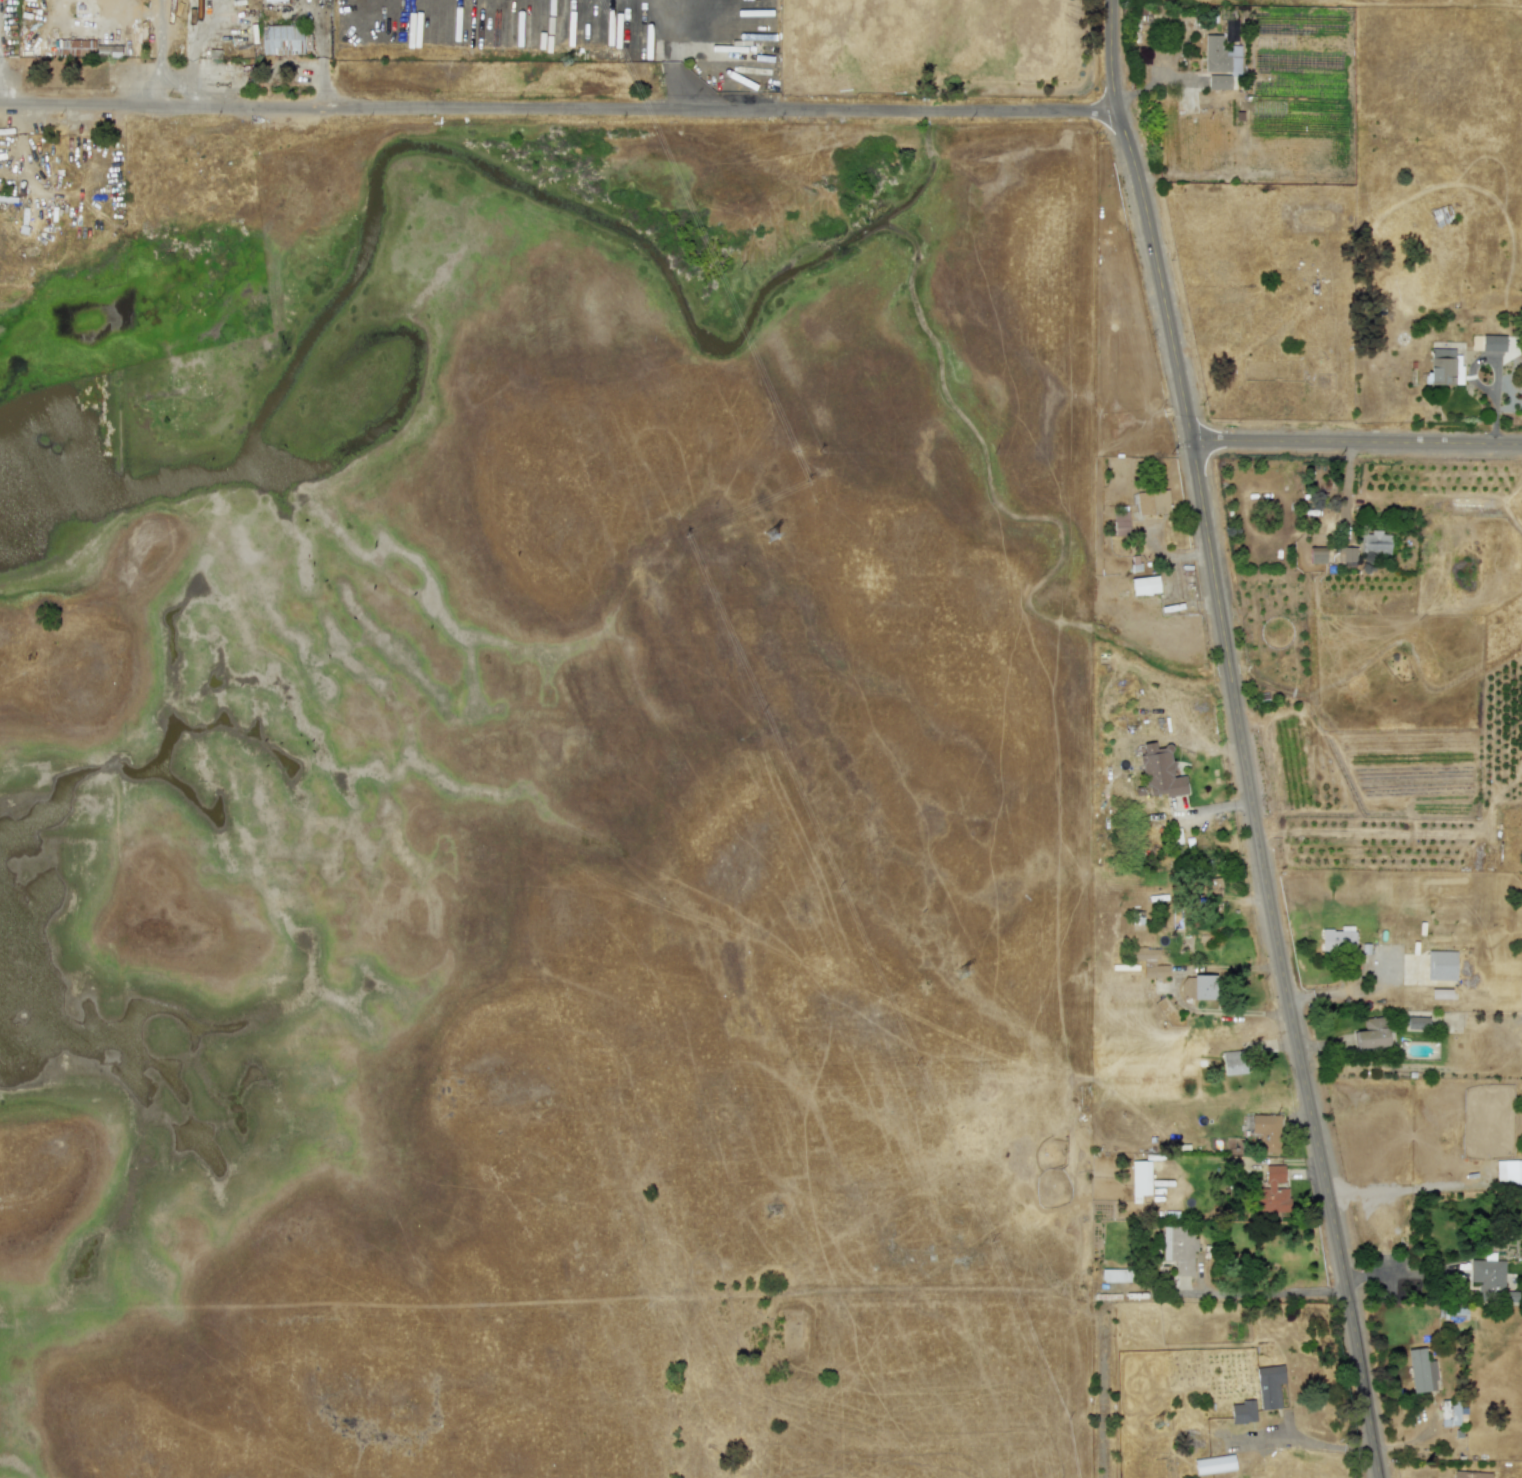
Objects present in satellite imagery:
building: (272, 0)
building: (1231, 31)
building: (280, 39)
building: (72, 47)
building: (107, 50)
road: (158, 54)
building: (1221, 56)
road: (1109, 58)
road: (673, 59)
power tower: (568, 63)
building: (1219, 82)
road: (2, 89)
road: (559, 112)
building: (1492, 343)
road: (1358, 444)
road: (1347, 493)
building: (1152, 501)
power tower: (767, 520)
building: (1120, 522)
building: (1374, 543)
building: (1316, 554)
building: (1346, 556)
building: (1144, 585)
building: (1159, 772)
road: (1247, 797)
building: (1208, 885)
building: (1338, 938)
building: (1149, 962)
building: (1440, 965)
power tower: (963, 974)
building: (1187, 987)
building: (1203, 987)
building: (1428, 987)
road: (1343, 991)
road: (1175, 993)
building: (1417, 1022)
building: (1372, 1033)
building: (1232, 1062)
building: (1266, 1131)
building: (1508, 1172)
building: (1139, 1179)
building: (1272, 1192)
building: (1178, 1248)
road: (1396, 1272)
building: (1114, 1275)
building: (1490, 1280)
road: (1279, 1293)
building: (1421, 1371)
building: (1269, 1386)
building: (1243, 1411)
building: (1449, 1412)
power tower: (1158, 1424)
building: (1213, 1464)
building: (1470, 1474)

